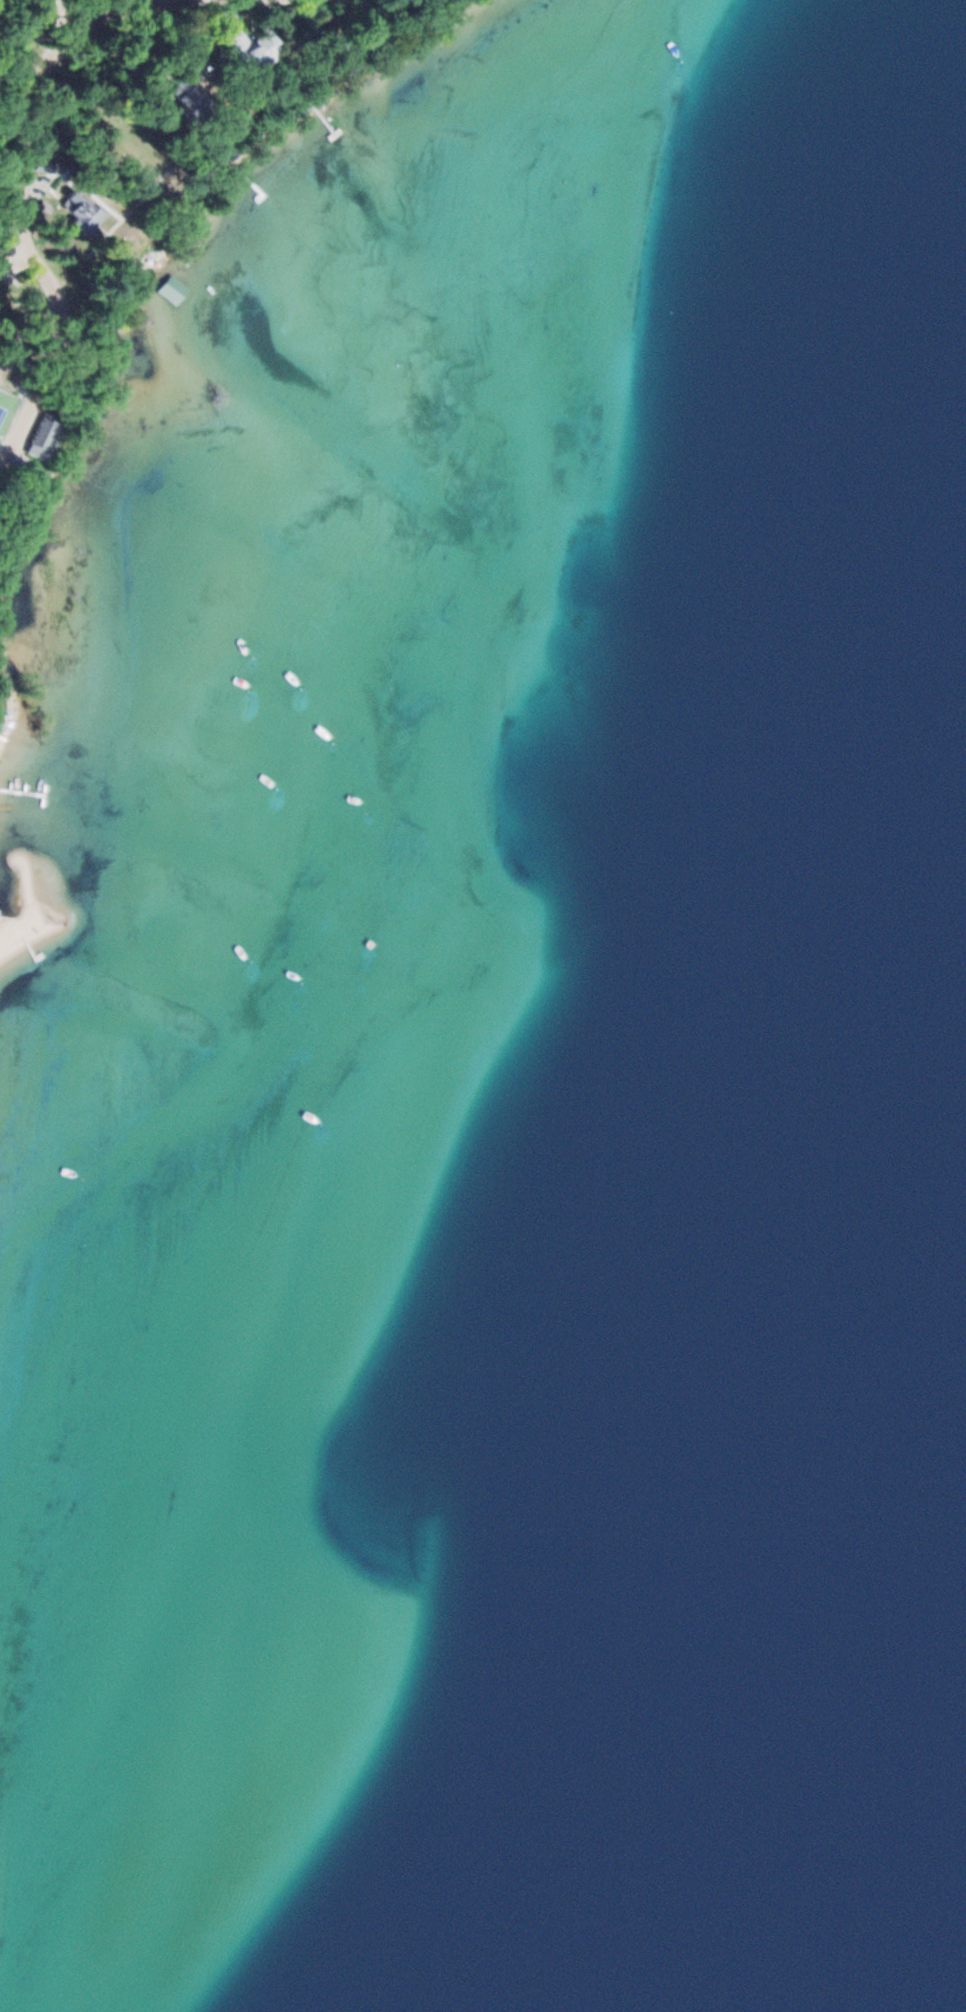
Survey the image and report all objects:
road: (61, 48)
building: (255, 51)
building: (191, 98)
building: (141, 151)
building: (86, 209)
road: (10, 246)
building: (176, 289)
road: (59, 352)
park: (8, 409)
building: (49, 434)

